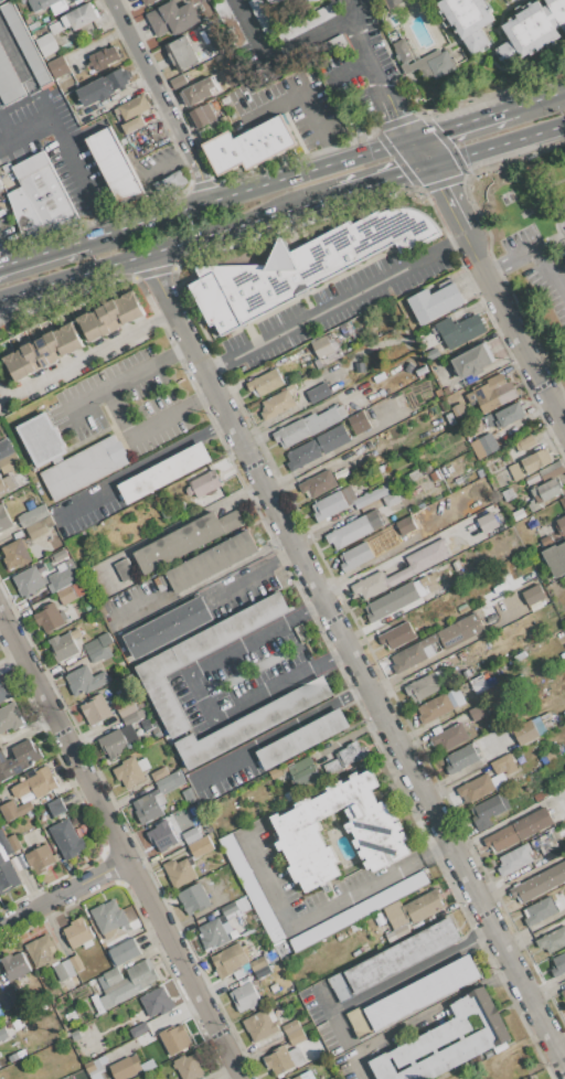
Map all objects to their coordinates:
building: (278, 0)
building: (430, 0)
building: (46, 2)
building: (147, 2)
building: (392, 3)
building: (58, 8)
building: (79, 17)
building: (262, 17)
building: (32, 18)
building: (46, 18)
building: (172, 18)
building: (308, 21)
building: (469, 21)
building: (230, 23)
building: (34, 25)
building: (56, 26)
building: (531, 32)
building: (214, 36)
building: (45, 44)
building: (327, 49)
building: (181, 53)
road: (281, 56)
building: (104, 57)
building: (18, 58)
building: (422, 61)
road: (18, 65)
building: (237, 65)
building: (58, 66)
road: (149, 74)
building: (178, 81)
building: (223, 82)
building: (104, 86)
road: (381, 86)
building: (198, 92)
road: (303, 92)
road: (540, 97)
building: (224, 100)
building: (134, 107)
road: (42, 113)
building: (233, 115)
building: (201, 116)
traffic signals: (397, 116)
road: (463, 121)
building: (220, 122)
building: (132, 125)
traffic signals: (441, 129)
road: (7, 131)
building: (204, 131)
road: (58, 145)
building: (250, 145)
road: (498, 145)
road: (1, 149)
road: (334, 154)
building: (115, 164)
road: (199, 173)
traffic signals: (401, 174)
building: (178, 180)
road: (380, 180)
building: (0, 184)
building: (0, 186)
traffic signals: (444, 186)
road: (248, 188)
building: (40, 196)
road: (456, 210)
road: (98, 221)
road: (458, 242)
road: (163, 247)
road: (42, 252)
road: (535, 253)
road: (0, 263)
building: (303, 265)
road: (154, 275)
building: (435, 302)
road: (335, 305)
building: (130, 307)
building: (113, 316)
building: (93, 325)
building: (460, 330)
building: (68, 338)
road: (522, 339)
building: (322, 346)
building: (51, 348)
road: (173, 352)
road: (86, 354)
building: (433, 354)
building: (32, 357)
building: (473, 360)
building: (419, 361)
building: (15, 366)
road: (215, 367)
building: (360, 367)
building: (408, 367)
building: (420, 370)
building: (372, 380)
building: (266, 382)
road: (111, 384)
building: (319, 392)
building: (492, 393)
building: (376, 395)
road: (200, 399)
building: (278, 402)
road: (562, 409)
building: (459, 410)
building: (509, 415)
building: (450, 418)
building: (489, 419)
building: (360, 423)
building: (308, 426)
road: (135, 435)
building: (41, 439)
building: (488, 442)
building: (524, 442)
building: (317, 447)
building: (364, 447)
building: (4, 448)
road: (168, 450)
building: (536, 459)
building: (9, 462)
building: (84, 467)
building: (426, 469)
building: (552, 470)
building: (515, 471)
building: (163, 472)
building: (532, 478)
building: (318, 483)
building: (417, 483)
building: (204, 484)
building: (4, 487)
building: (547, 490)
building: (508, 492)
building: (164, 493)
building: (349, 493)
building: (373, 494)
road: (84, 496)
building: (392, 499)
building: (563, 501)
building: (30, 503)
building: (330, 505)
building: (519, 513)
building: (33, 515)
building: (4, 519)
road: (183, 521)
building: (488, 522)
building: (405, 525)
building: (561, 525)
building: (35, 530)
building: (354, 530)
building: (185, 539)
building: (545, 539)
building: (15, 554)
road: (285, 556)
building: (355, 556)
building: (556, 558)
building: (209, 563)
building: (125, 569)
building: (402, 569)
building: (63, 576)
road: (241, 580)
building: (29, 581)
building: (79, 587)
building: (43, 594)
building: (533, 594)
building: (66, 595)
building: (384, 605)
road: (313, 606)
building: (535, 606)
building: (104, 607)
building: (77, 608)
building: (462, 609)
building: (50, 618)
building: (168, 627)
building: (76, 633)
building: (397, 635)
building: (210, 640)
building: (450, 642)
building: (97, 643)
building: (62, 647)
road: (335, 651)
building: (100, 654)
building: (86, 680)
road: (365, 680)
building: (479, 684)
building: (423, 687)
building: (3, 691)
road: (198, 697)
building: (140, 703)
building: (440, 705)
building: (126, 707)
building: (96, 708)
building: (478, 712)
building: (544, 716)
building: (10, 717)
building: (134, 717)
building: (252, 723)
building: (146, 725)
road: (279, 729)
building: (525, 730)
building: (157, 733)
building: (449, 736)
building: (301, 739)
building: (117, 740)
building: (173, 749)
building: (353, 752)
building: (553, 754)
building: (18, 759)
building: (461, 759)
building: (504, 765)
building: (333, 767)
building: (131, 770)
building: (480, 770)
building: (302, 771)
building: (276, 772)
building: (160, 773)
building: (35, 783)
building: (476, 788)
building: (543, 792)
building: (189, 795)
building: (157, 798)
building: (285, 798)
building: (56, 806)
building: (14, 810)
building: (488, 811)
building: (519, 830)
building: (373, 831)
building: (162, 835)
building: (191, 835)
building: (67, 838)
building: (14, 842)
road: (118, 843)
building: (544, 843)
building: (201, 846)
road: (437, 851)
building: (40, 857)
building: (514, 858)
building: (22, 862)
building: (559, 862)
building: (6, 866)
building: (179, 872)
road: (514, 883)
building: (252, 888)
building: (529, 889)
road: (63, 893)
building: (194, 898)
building: (413, 908)
building: (544, 908)
building: (231, 909)
building: (359, 911)
building: (109, 916)
road: (310, 920)
building: (76, 932)
building: (215, 932)
building: (397, 932)
building: (235, 933)
building: (118, 939)
building: (553, 940)
building: (41, 950)
building: (125, 951)
building: (273, 955)
building: (394, 959)
building: (230, 960)
building: (258, 963)
building: (14, 964)
building: (557, 965)
building: (68, 968)
road: (413, 970)
building: (263, 971)
building: (125, 983)
building: (274, 986)
building: (563, 993)
building: (246, 996)
building: (414, 996)
building: (9, 998)
building: (287, 1001)
building: (157, 1002)
road: (334, 1016)
road: (418, 1016)
building: (262, 1023)
building: (139, 1029)
building: (294, 1032)
building: (2, 1034)
building: (75, 1035)
building: (174, 1039)
building: (446, 1041)
road: (561, 1048)
building: (284, 1059)
building: (148, 1065)
building: (0, 1066)
building: (189, 1066)
building: (95, 1067)
building: (126, 1067)
building: (306, 1076)
building: (288, 1078)
building: (331, 1078)
building: (531, 1078)

